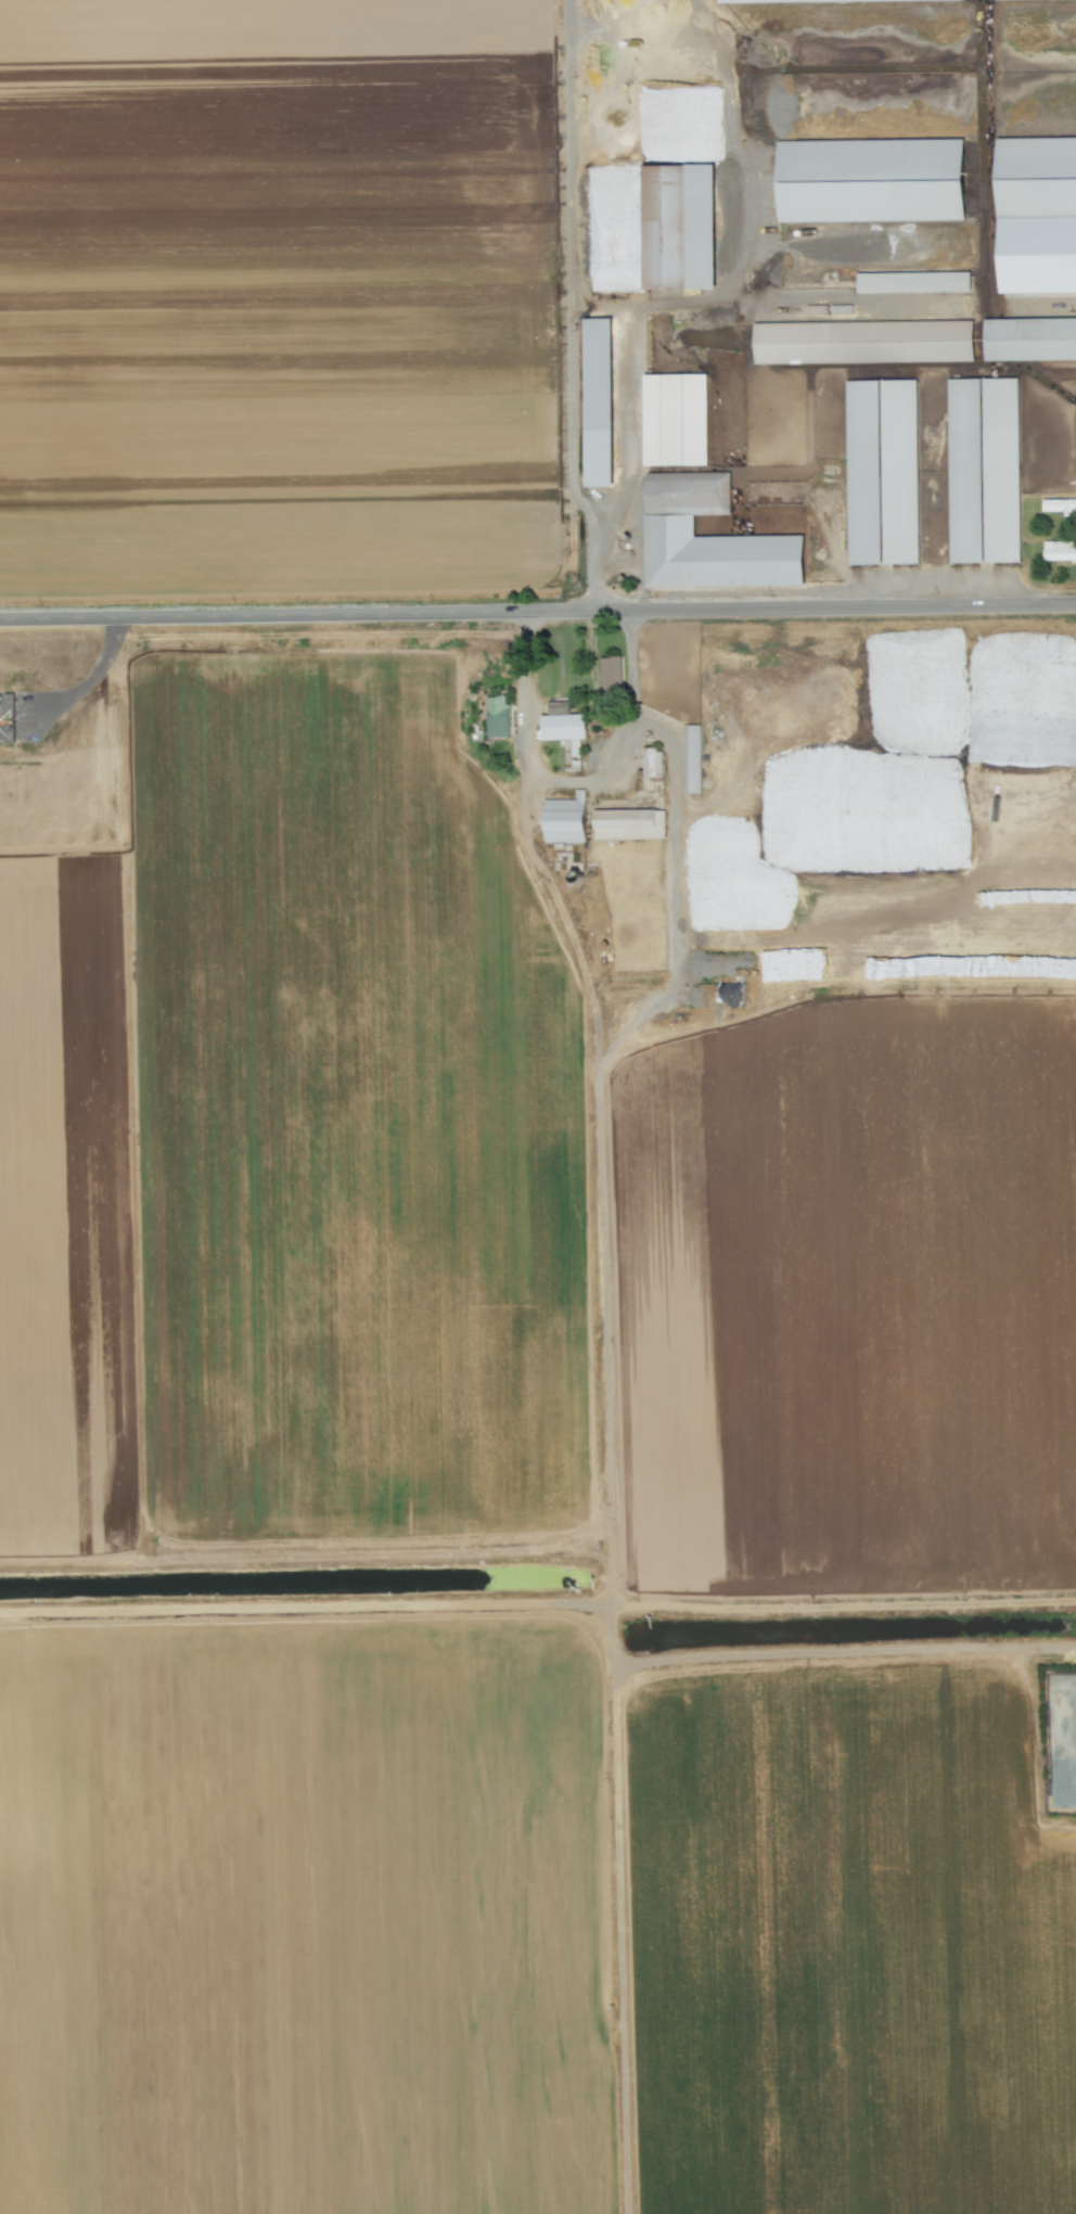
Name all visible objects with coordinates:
building: (754, 1)
building: (871, 180)
building: (1036, 215)
road: (742, 219)
building: (678, 227)
building: (912, 282)
road: (569, 306)
building: (1029, 340)
building: (862, 342)
building: (598, 404)
building: (675, 420)
building: (982, 471)
building: (883, 472)
building: (1060, 507)
building: (708, 539)
building: (1059, 551)
road: (537, 612)
building: (610, 675)
building: (497, 717)
building: (7, 718)
building: (563, 730)
building: (692, 759)
building: (651, 763)
road: (575, 781)
building: (564, 819)
building: (628, 824)

